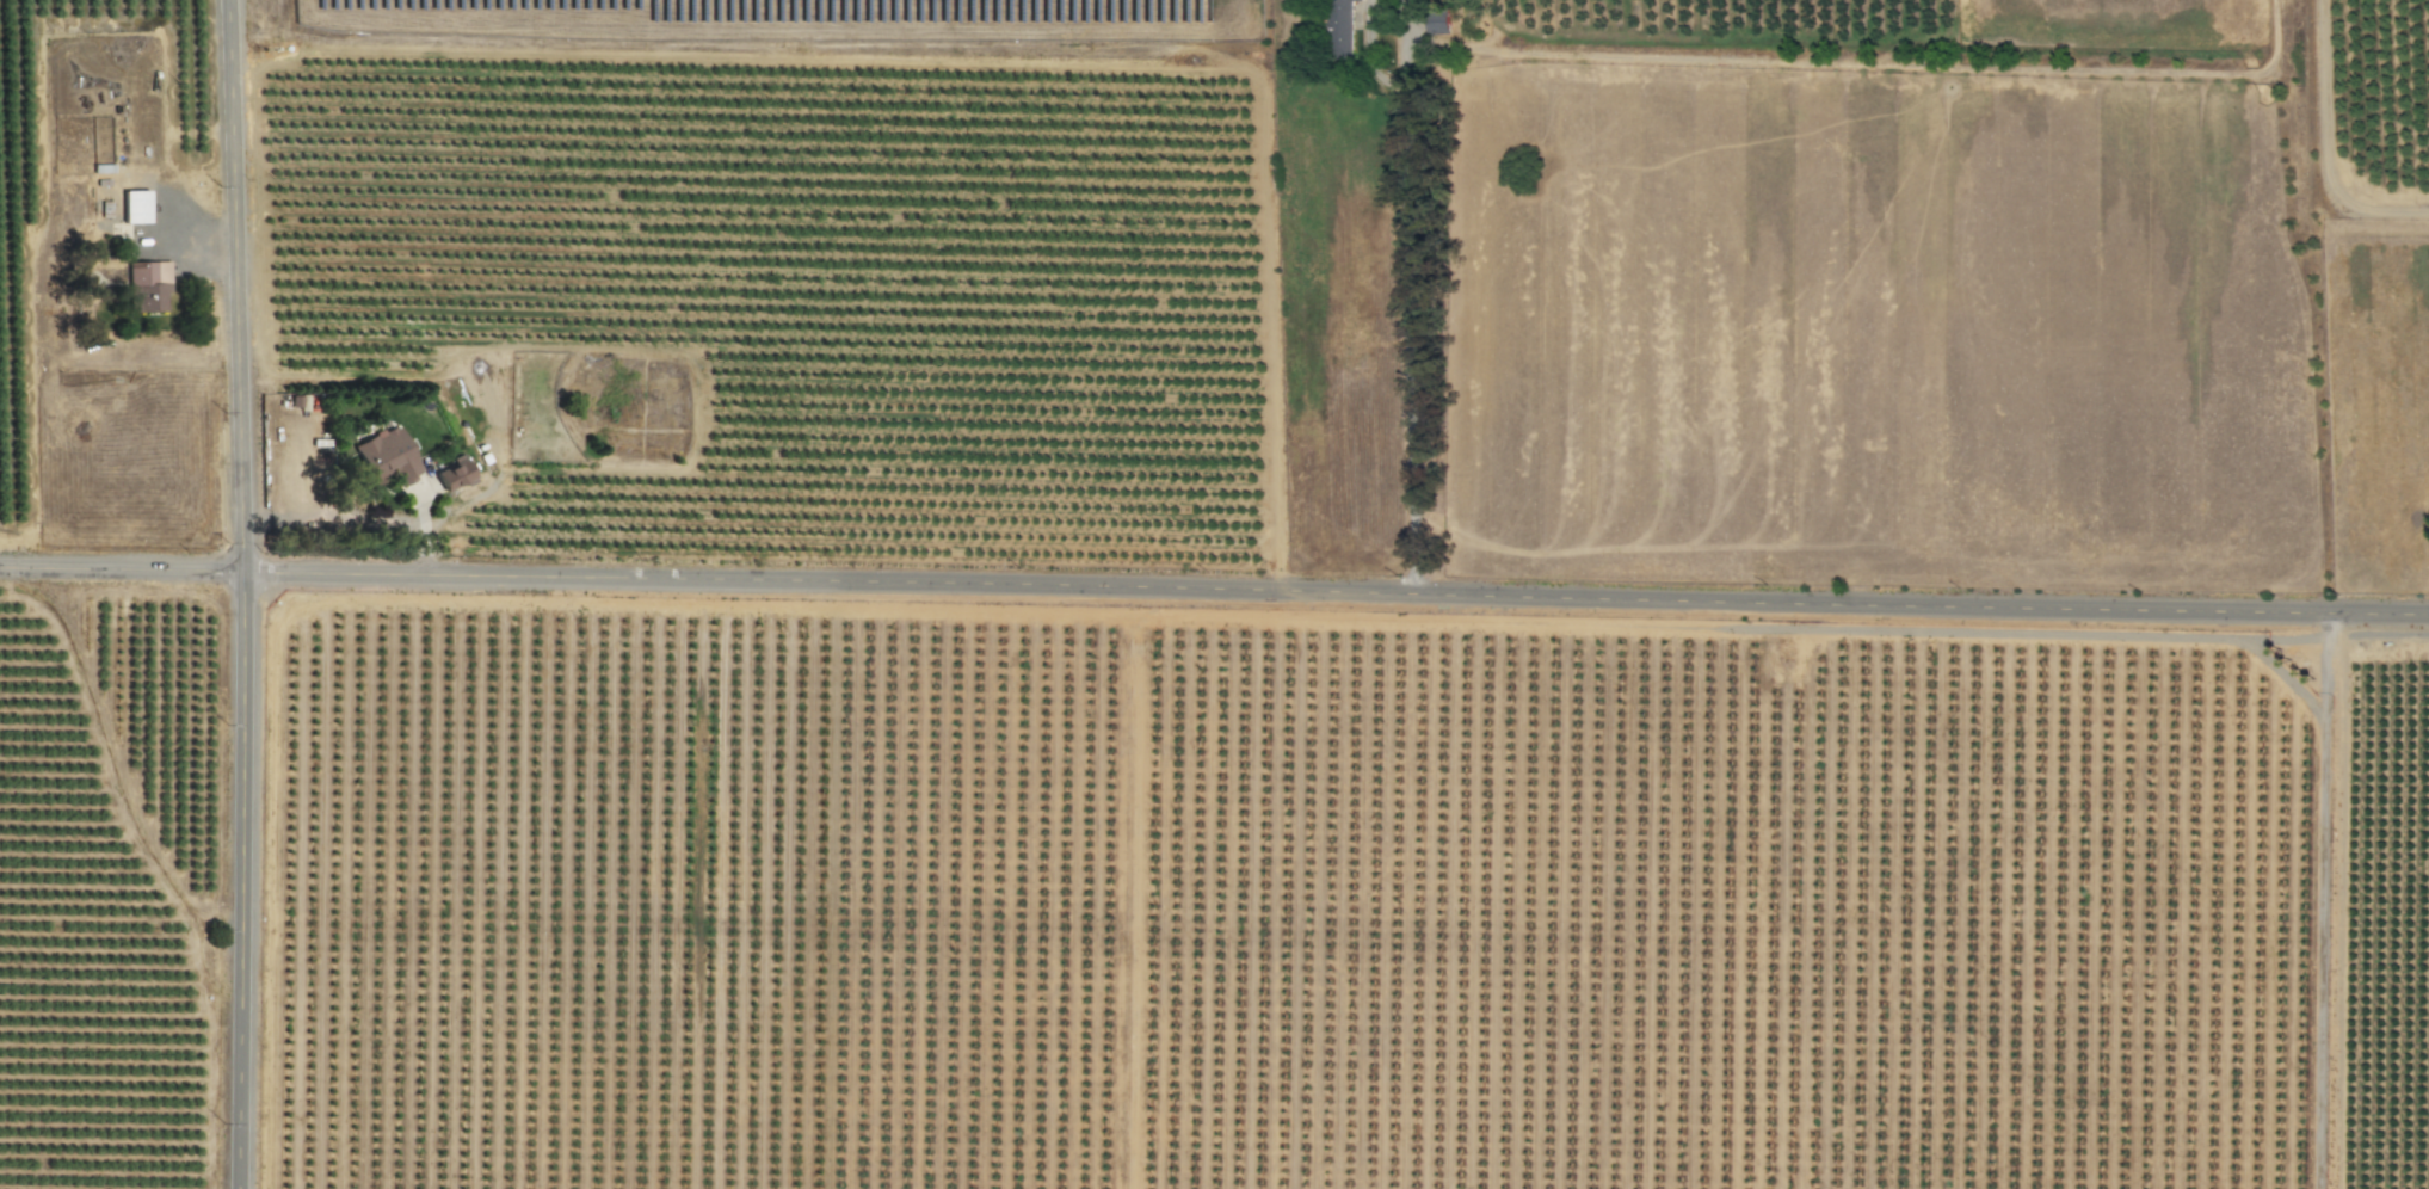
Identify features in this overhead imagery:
solar farm: (797, 19)
building: (1437, 24)
building: (1339, 29)
building: (134, 208)
building: (147, 285)
road: (1407, 332)
building: (386, 456)
building: (450, 475)
road: (1214, 589)
road: (239, 593)

